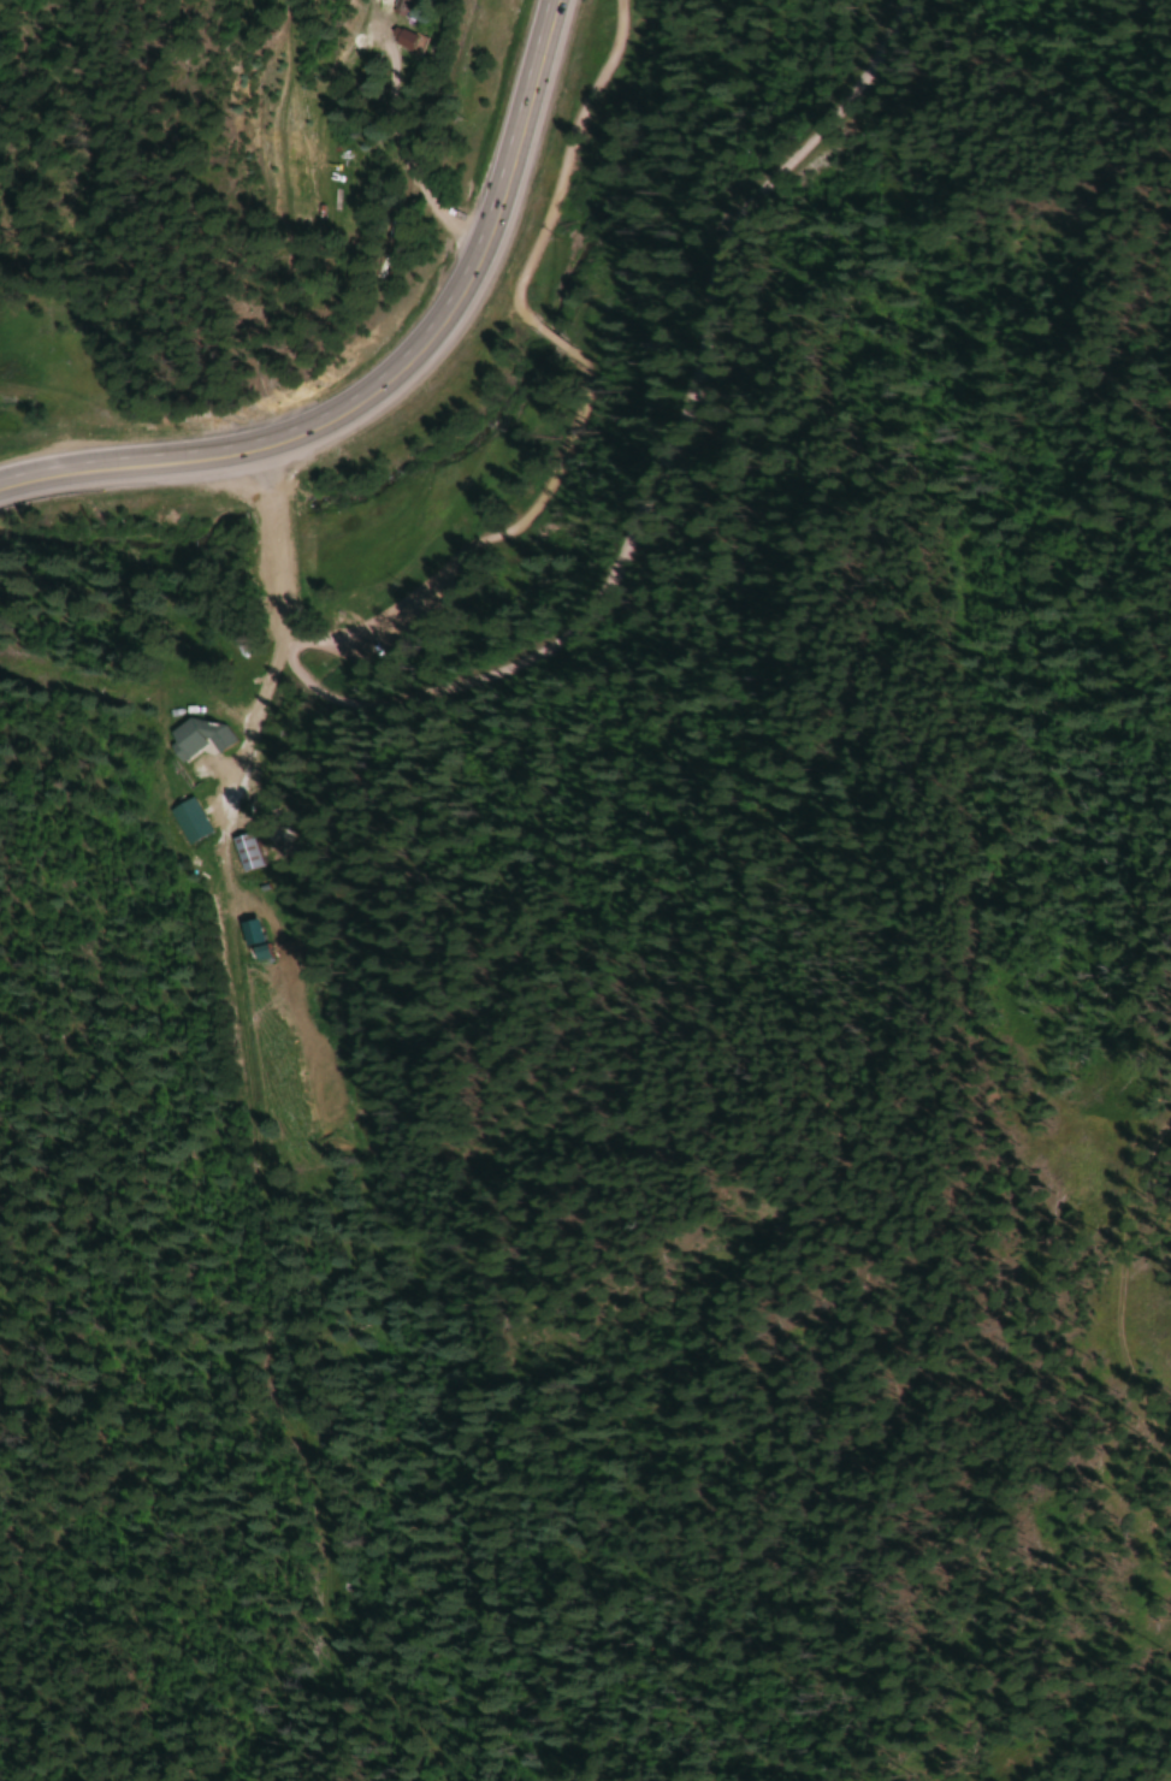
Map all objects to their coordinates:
building: (415, 4)
building: (425, 41)
road: (519, 289)
road: (403, 386)
road: (679, 449)
road: (278, 539)
parking lot: (496, 544)
road: (406, 608)
road: (292, 627)
road: (295, 646)
building: (202, 736)
building: (194, 821)
building: (243, 853)
building: (258, 933)
road: (1122, 1285)

